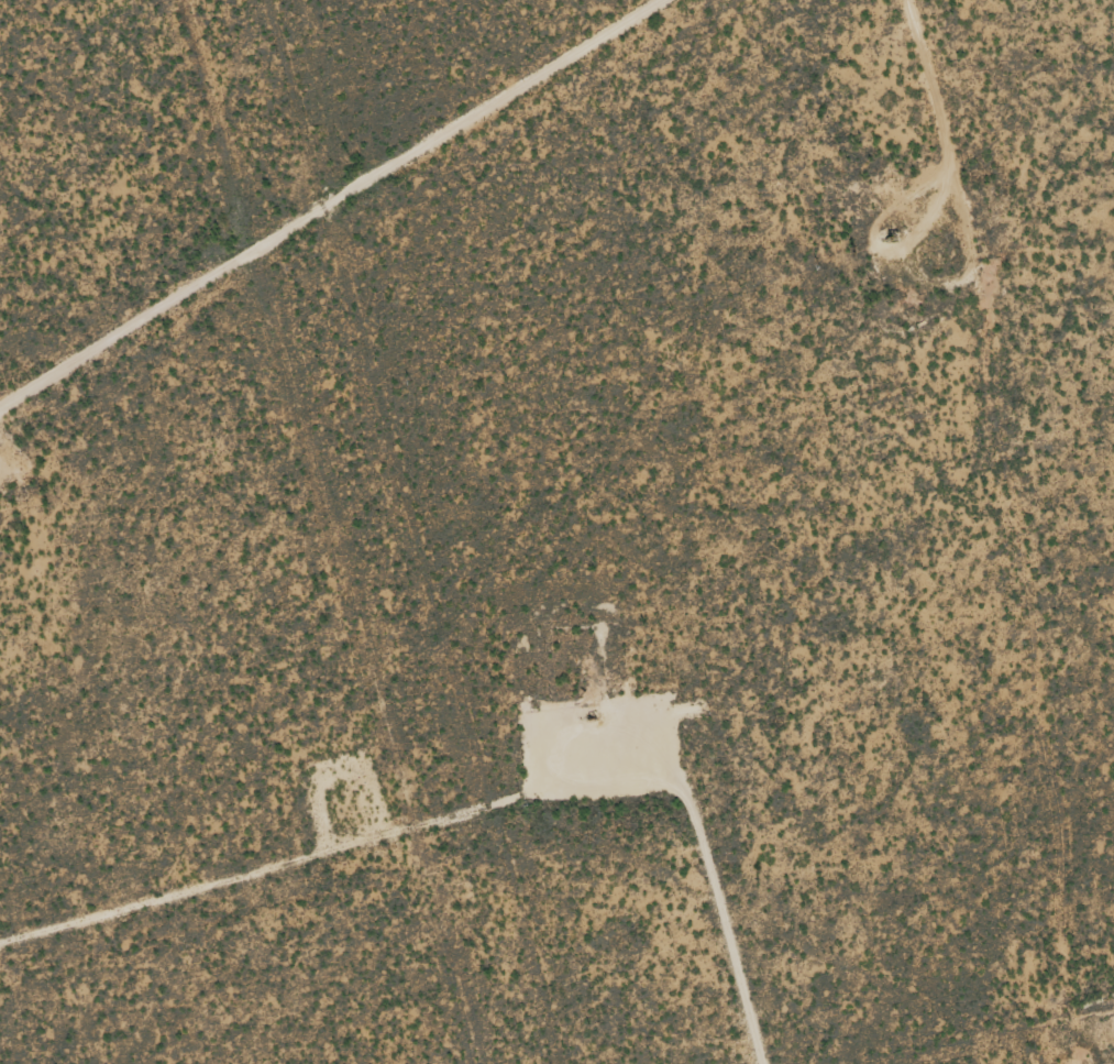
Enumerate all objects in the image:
road: (968, 110)
road: (3, 994)
road: (14, 1017)

